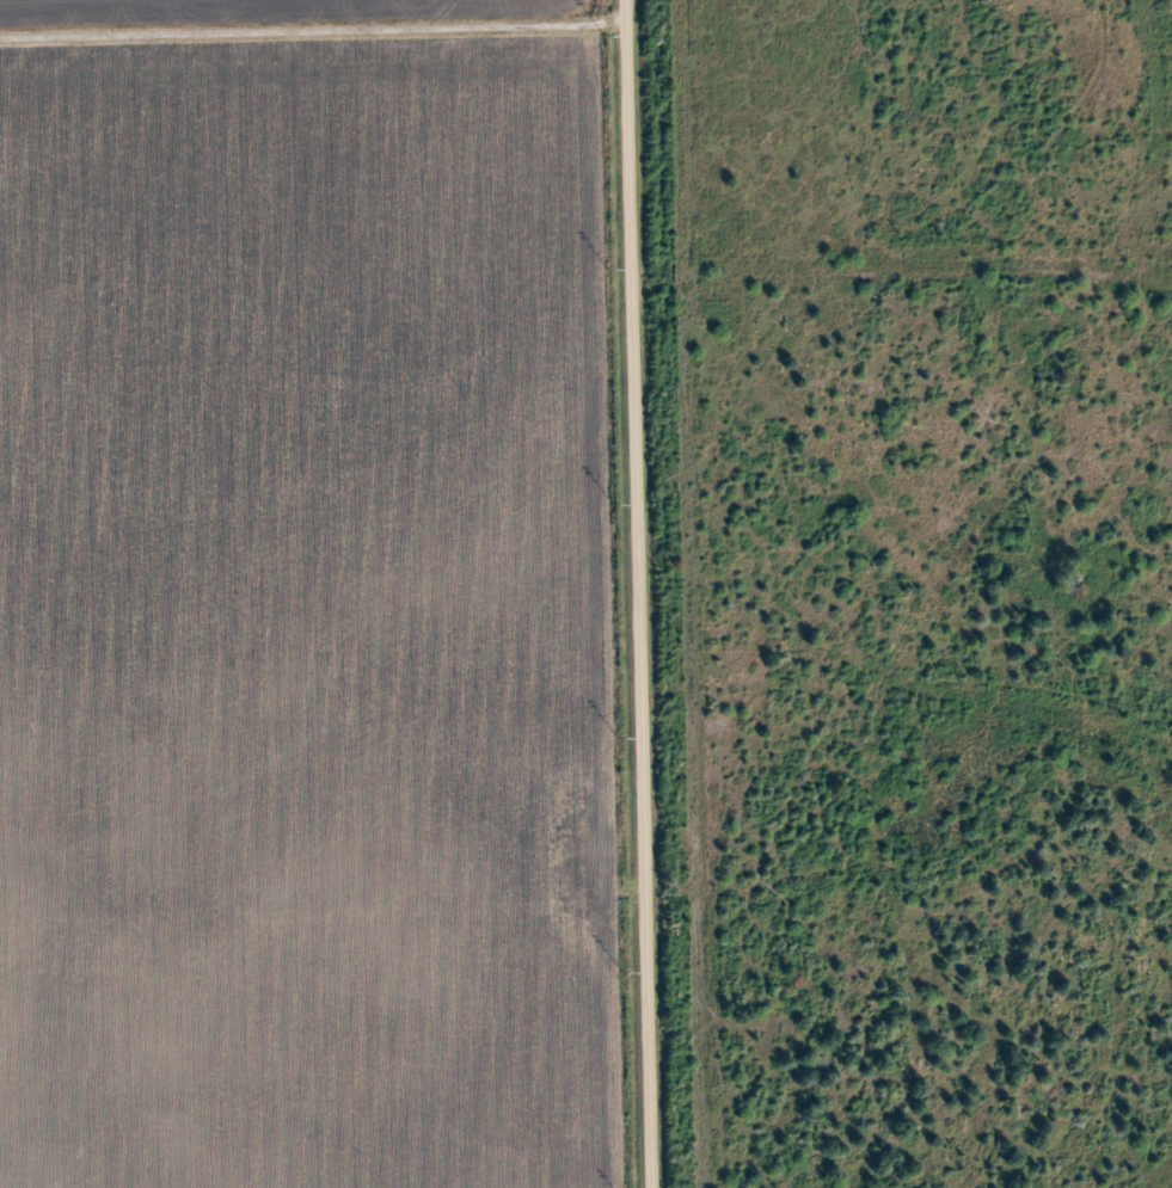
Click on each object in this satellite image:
road: (638, 593)

